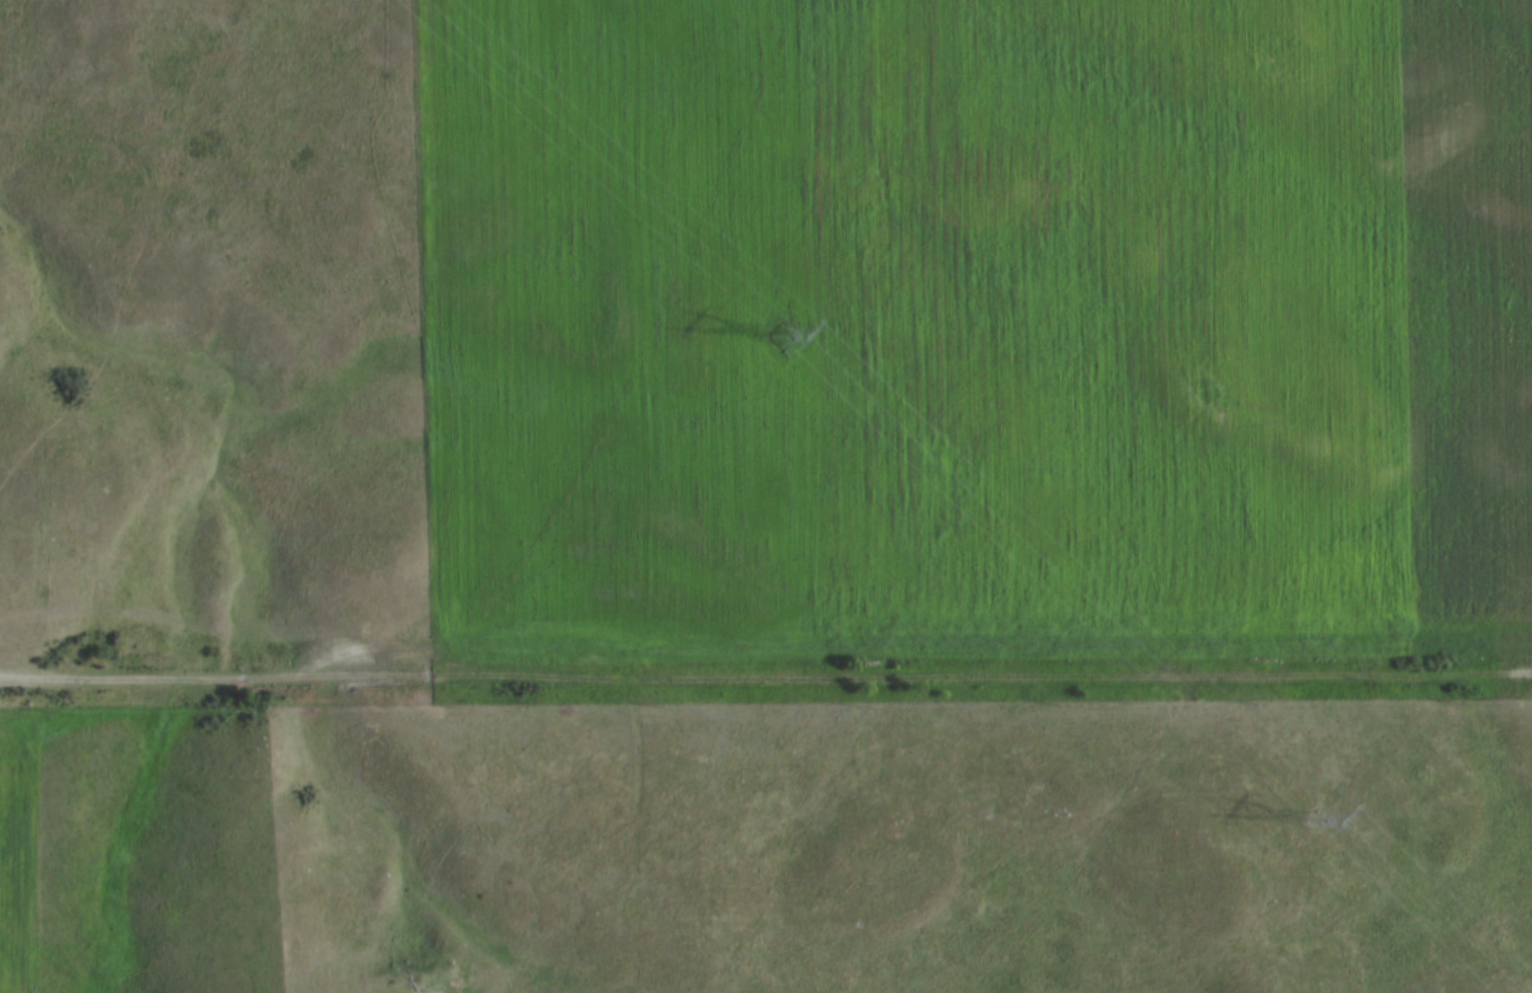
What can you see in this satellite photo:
power tower: (781, 339)
road: (765, 676)
power tower: (1317, 825)

